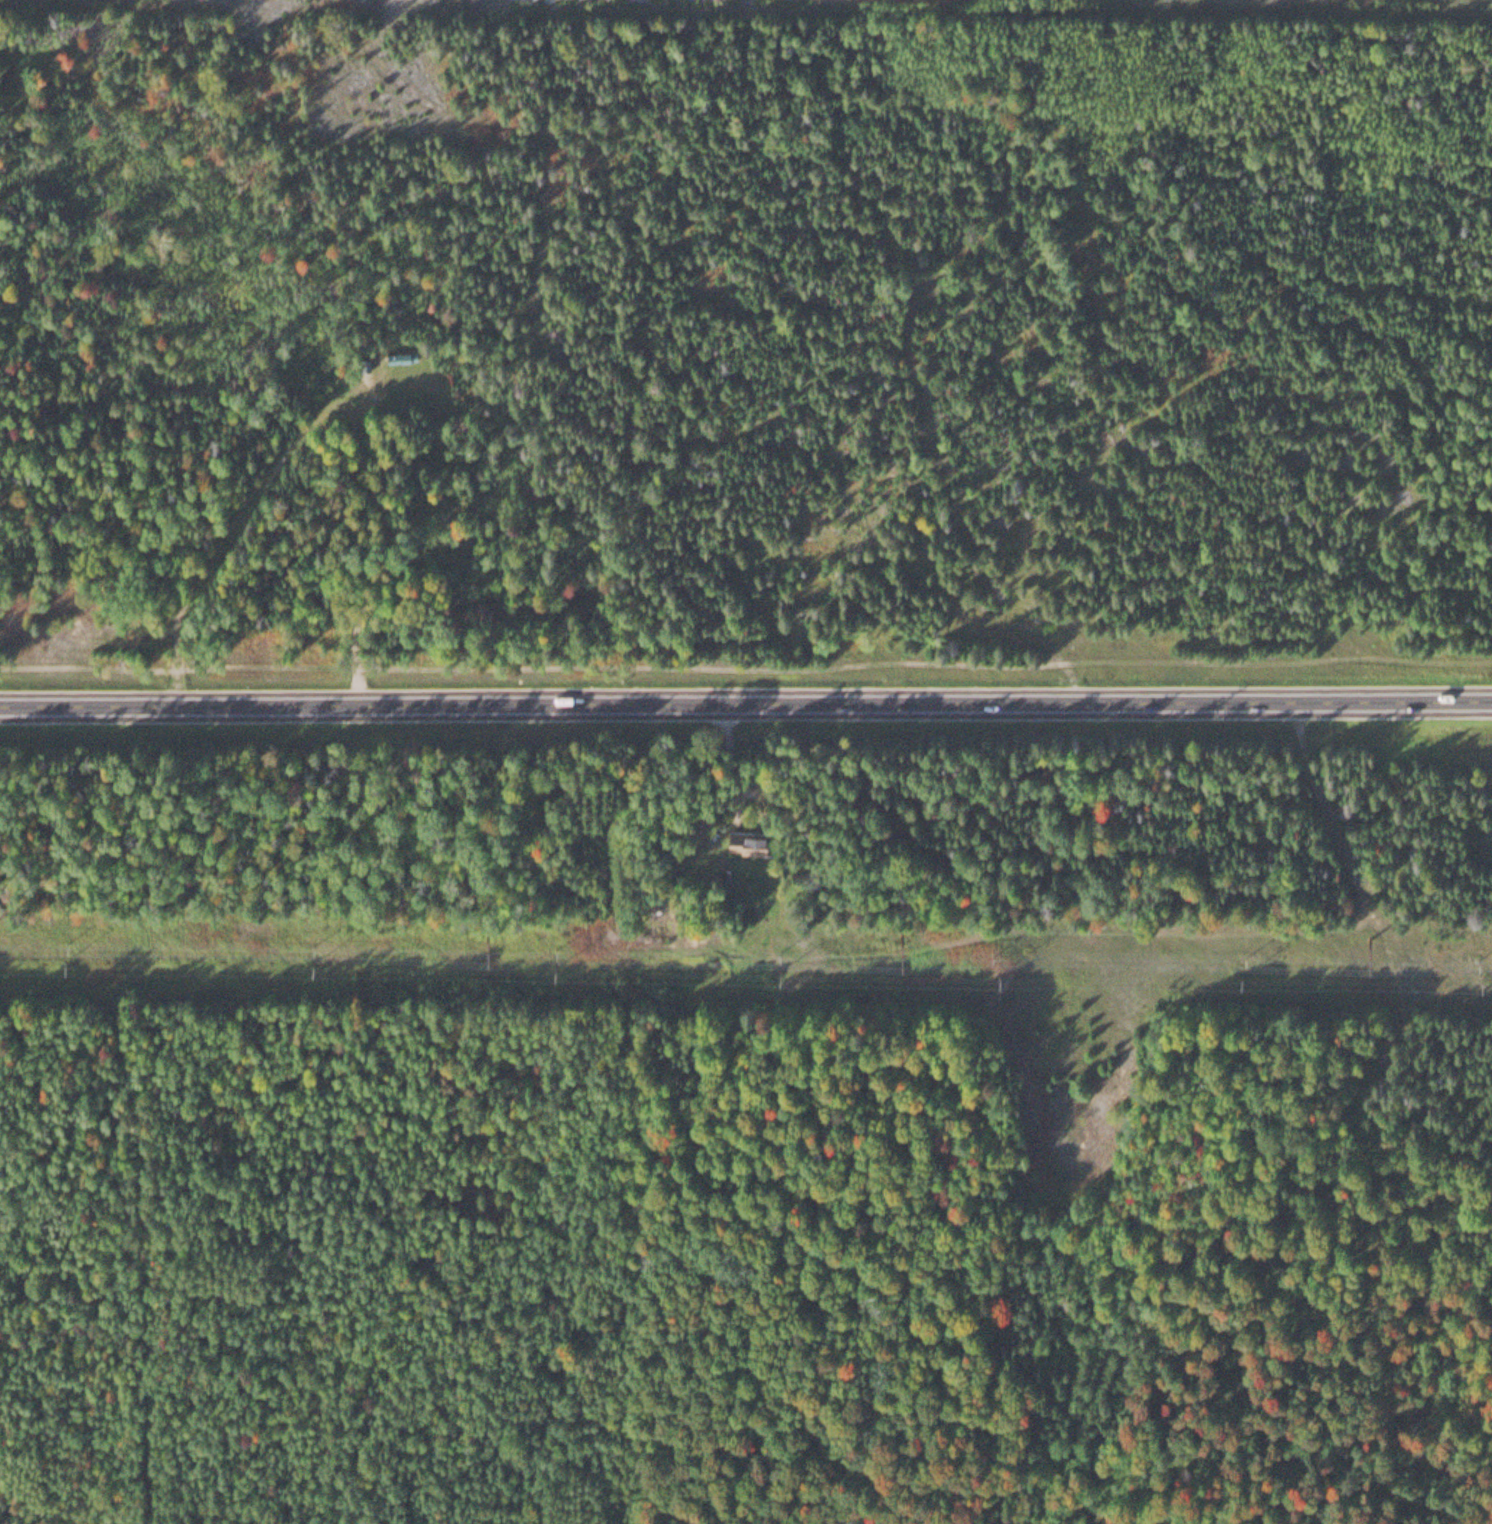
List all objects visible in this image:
building: (403, 354)
road: (746, 703)
building: (746, 840)
power tower: (484, 927)
power tower: (897, 931)
power tower: (1367, 937)

